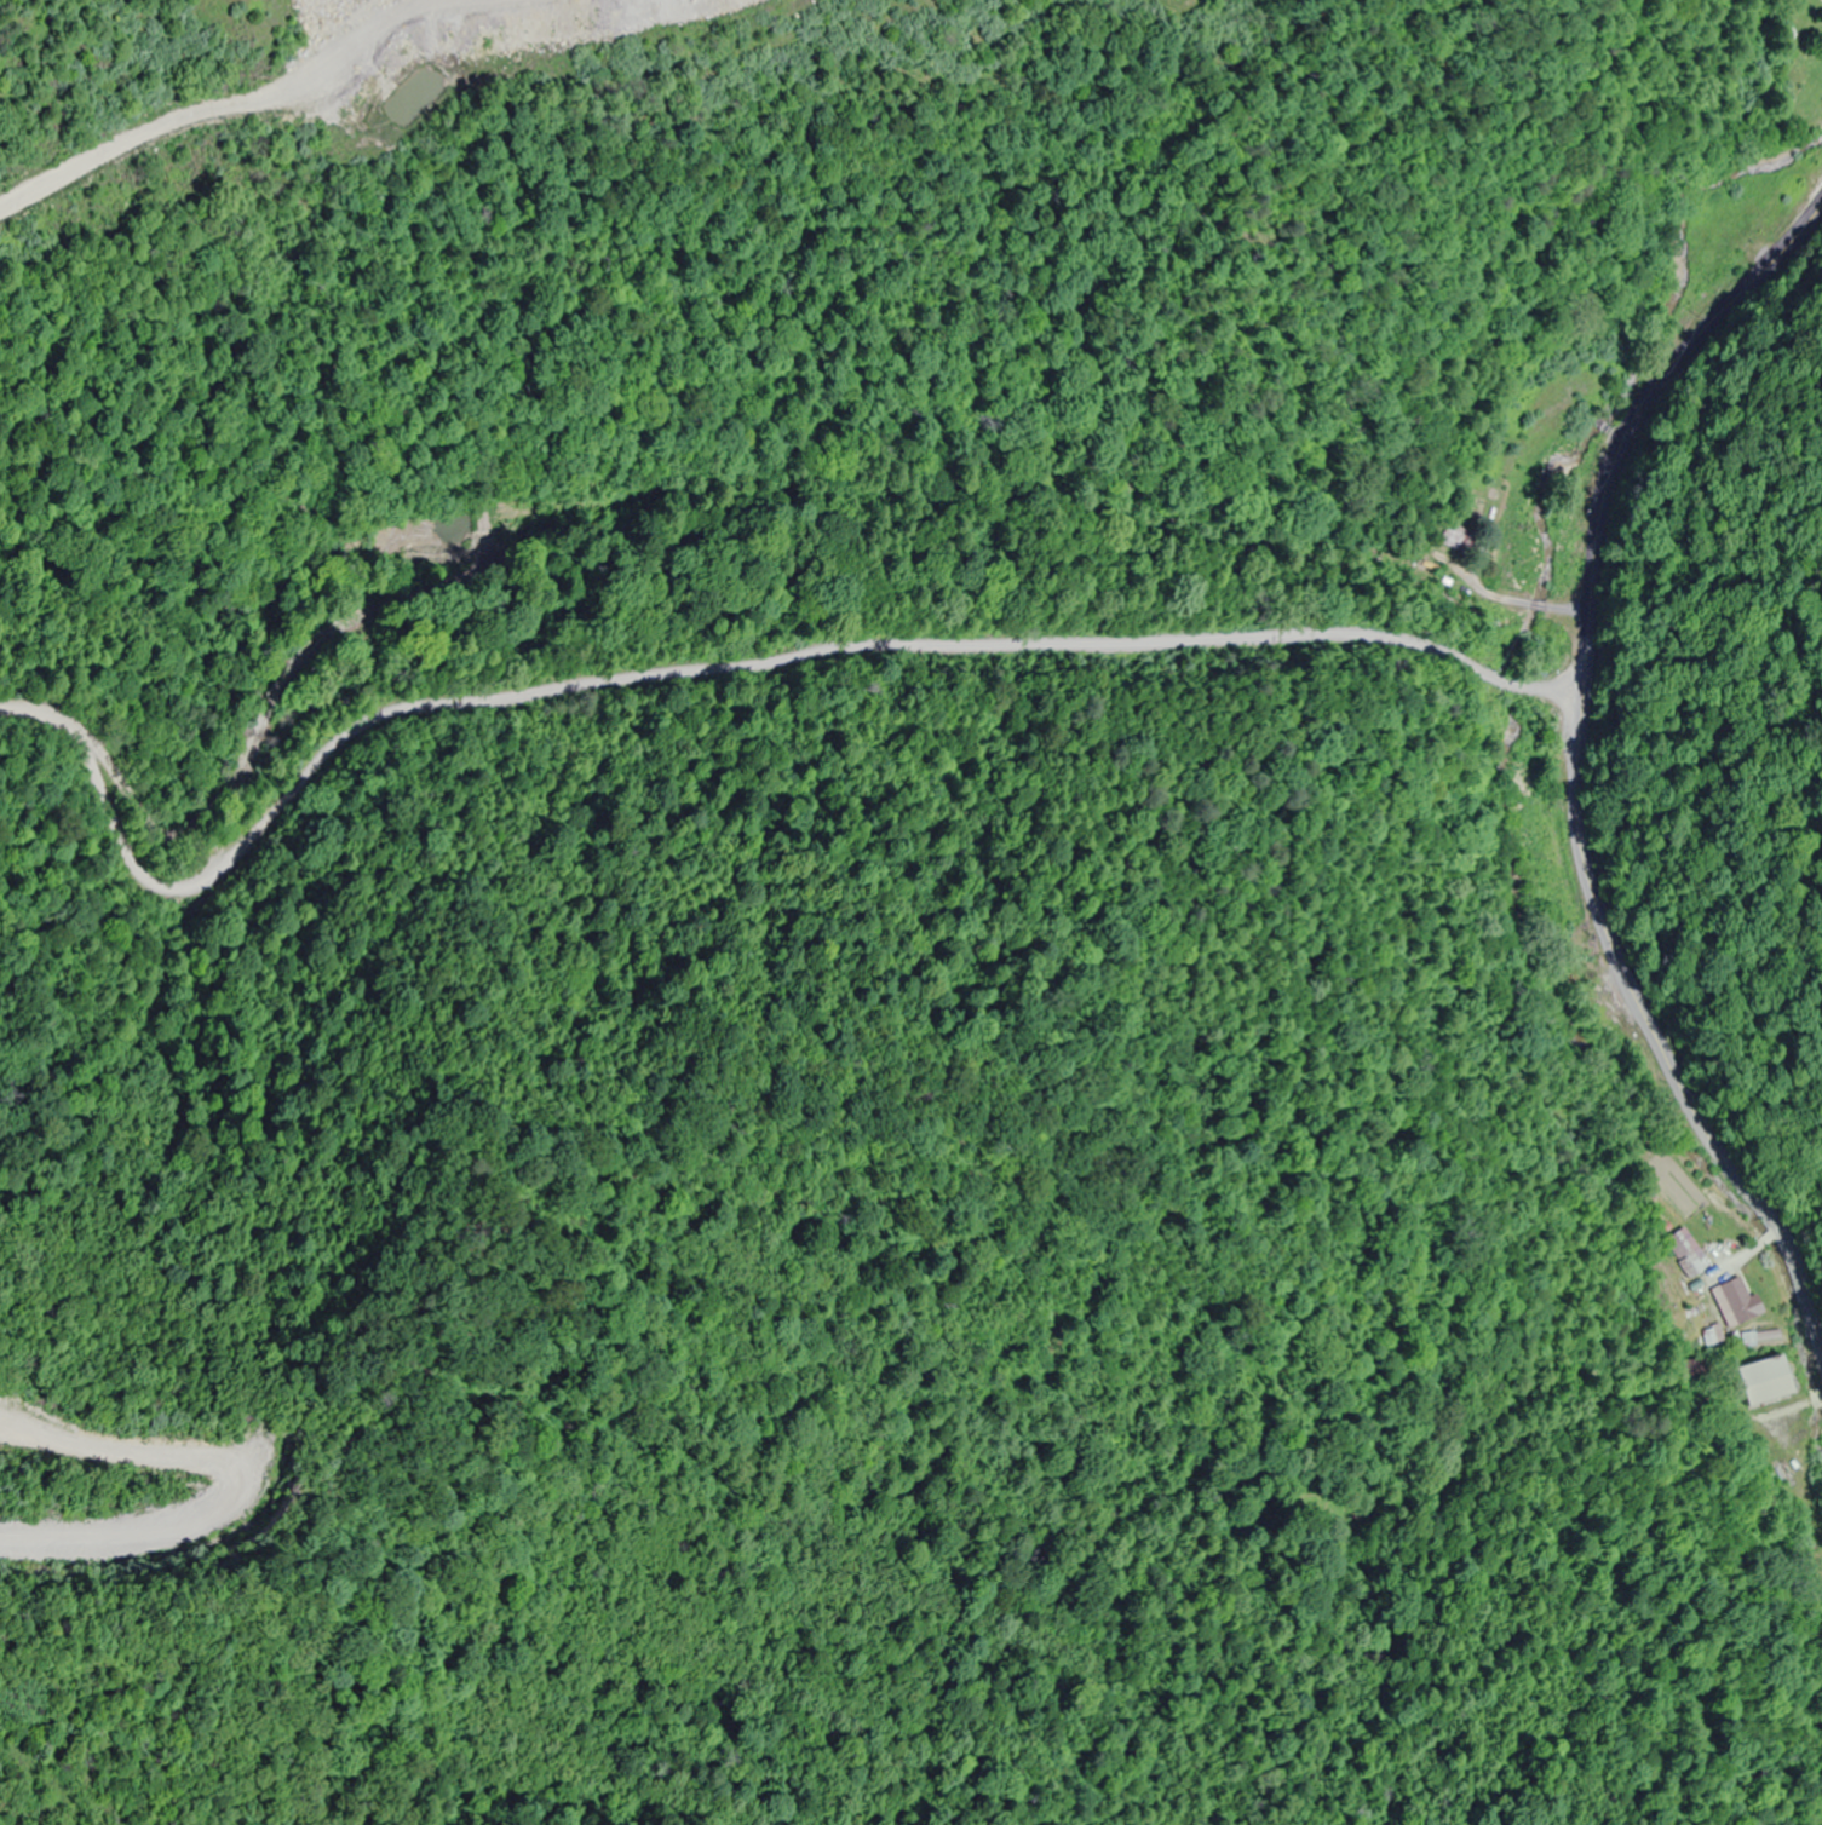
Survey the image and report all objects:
building: (1455, 537)
road: (1584, 766)
building: (1685, 1253)
building: (1738, 1300)
building: (1759, 1378)

